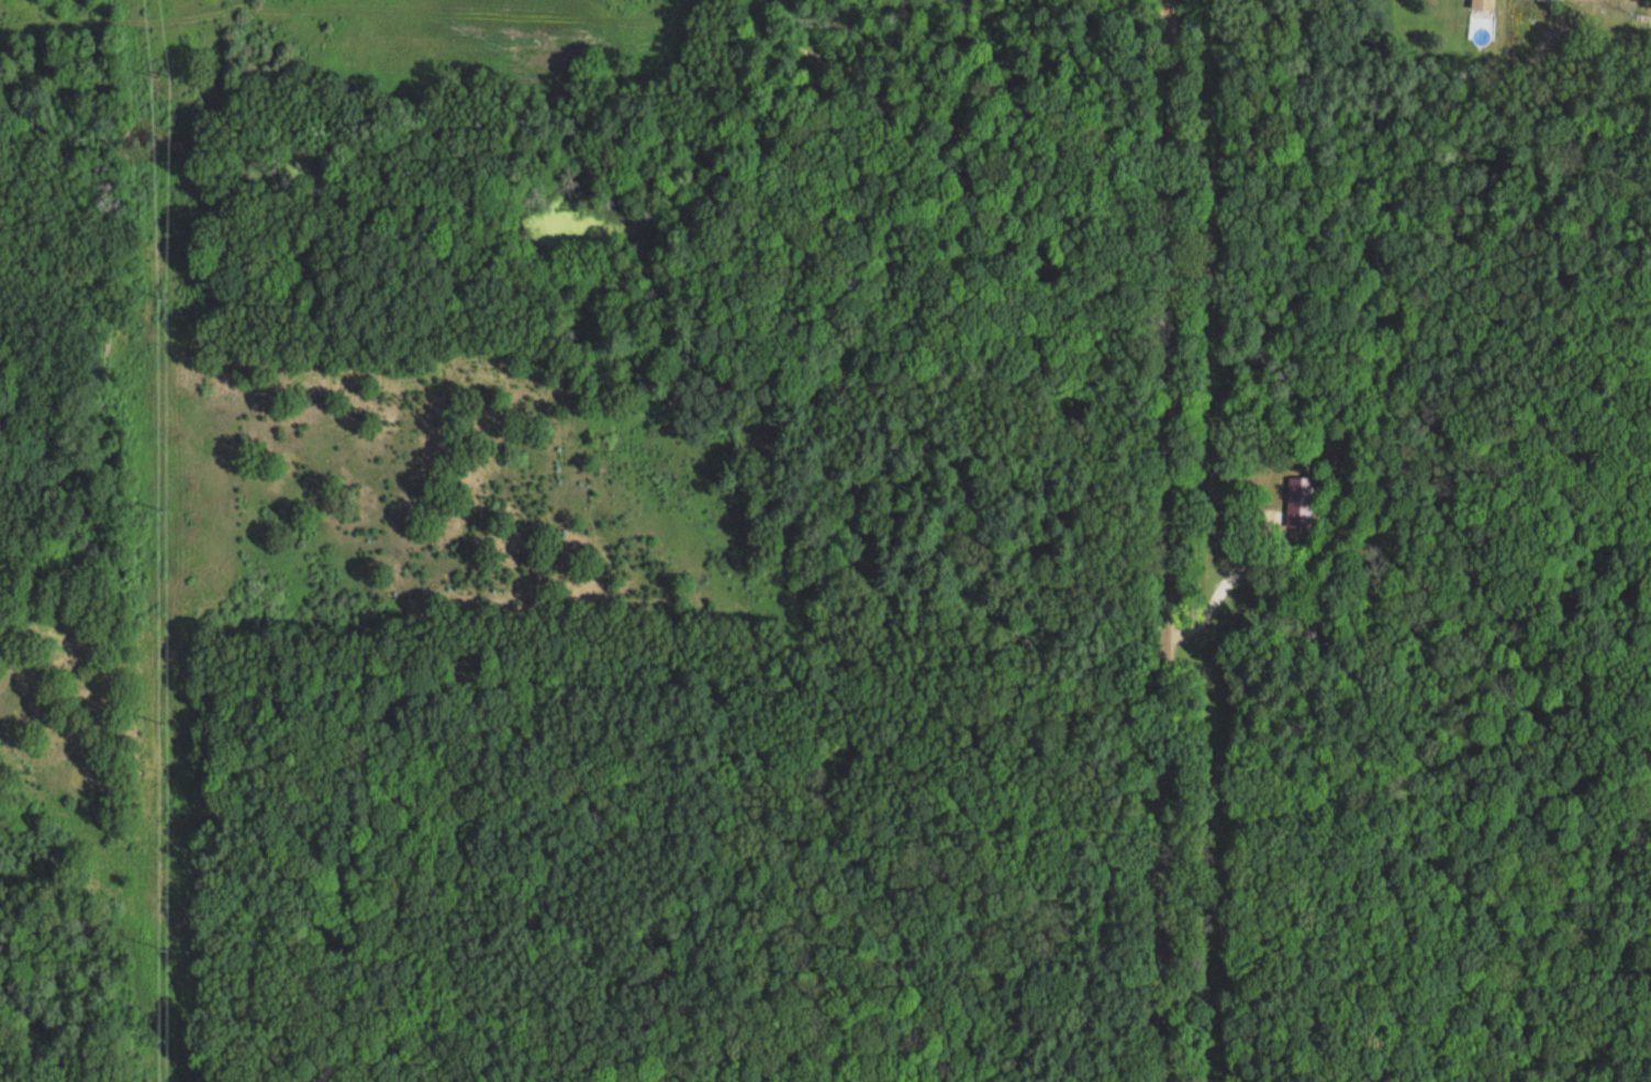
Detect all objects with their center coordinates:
building: (1482, 5)
building: (1298, 502)
road: (1162, 540)

